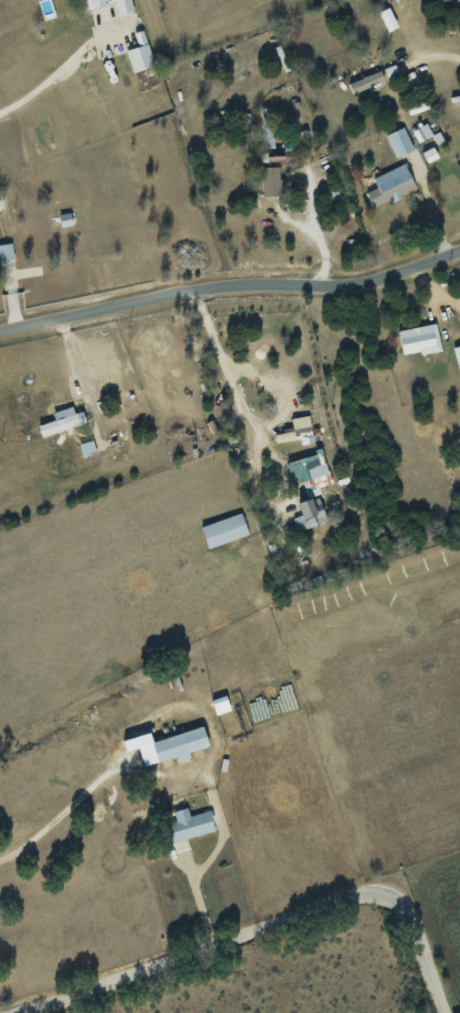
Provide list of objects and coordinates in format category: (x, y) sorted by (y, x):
building: (123, 5)
building: (142, 62)
road: (430, 62)
road: (59, 70)
building: (391, 71)
building: (367, 81)
building: (266, 127)
building: (422, 133)
building: (400, 142)
building: (271, 181)
building: (391, 185)
road: (312, 216)
building: (6, 251)
road: (230, 286)
road: (433, 290)
road: (11, 294)
building: (420, 339)
building: (457, 355)
road: (234, 386)
building: (62, 421)
building: (87, 448)
building: (309, 472)
building: (309, 514)
building: (225, 530)
building: (221, 704)
building: (174, 746)
road: (179, 770)
building: (190, 824)
road: (270, 924)

